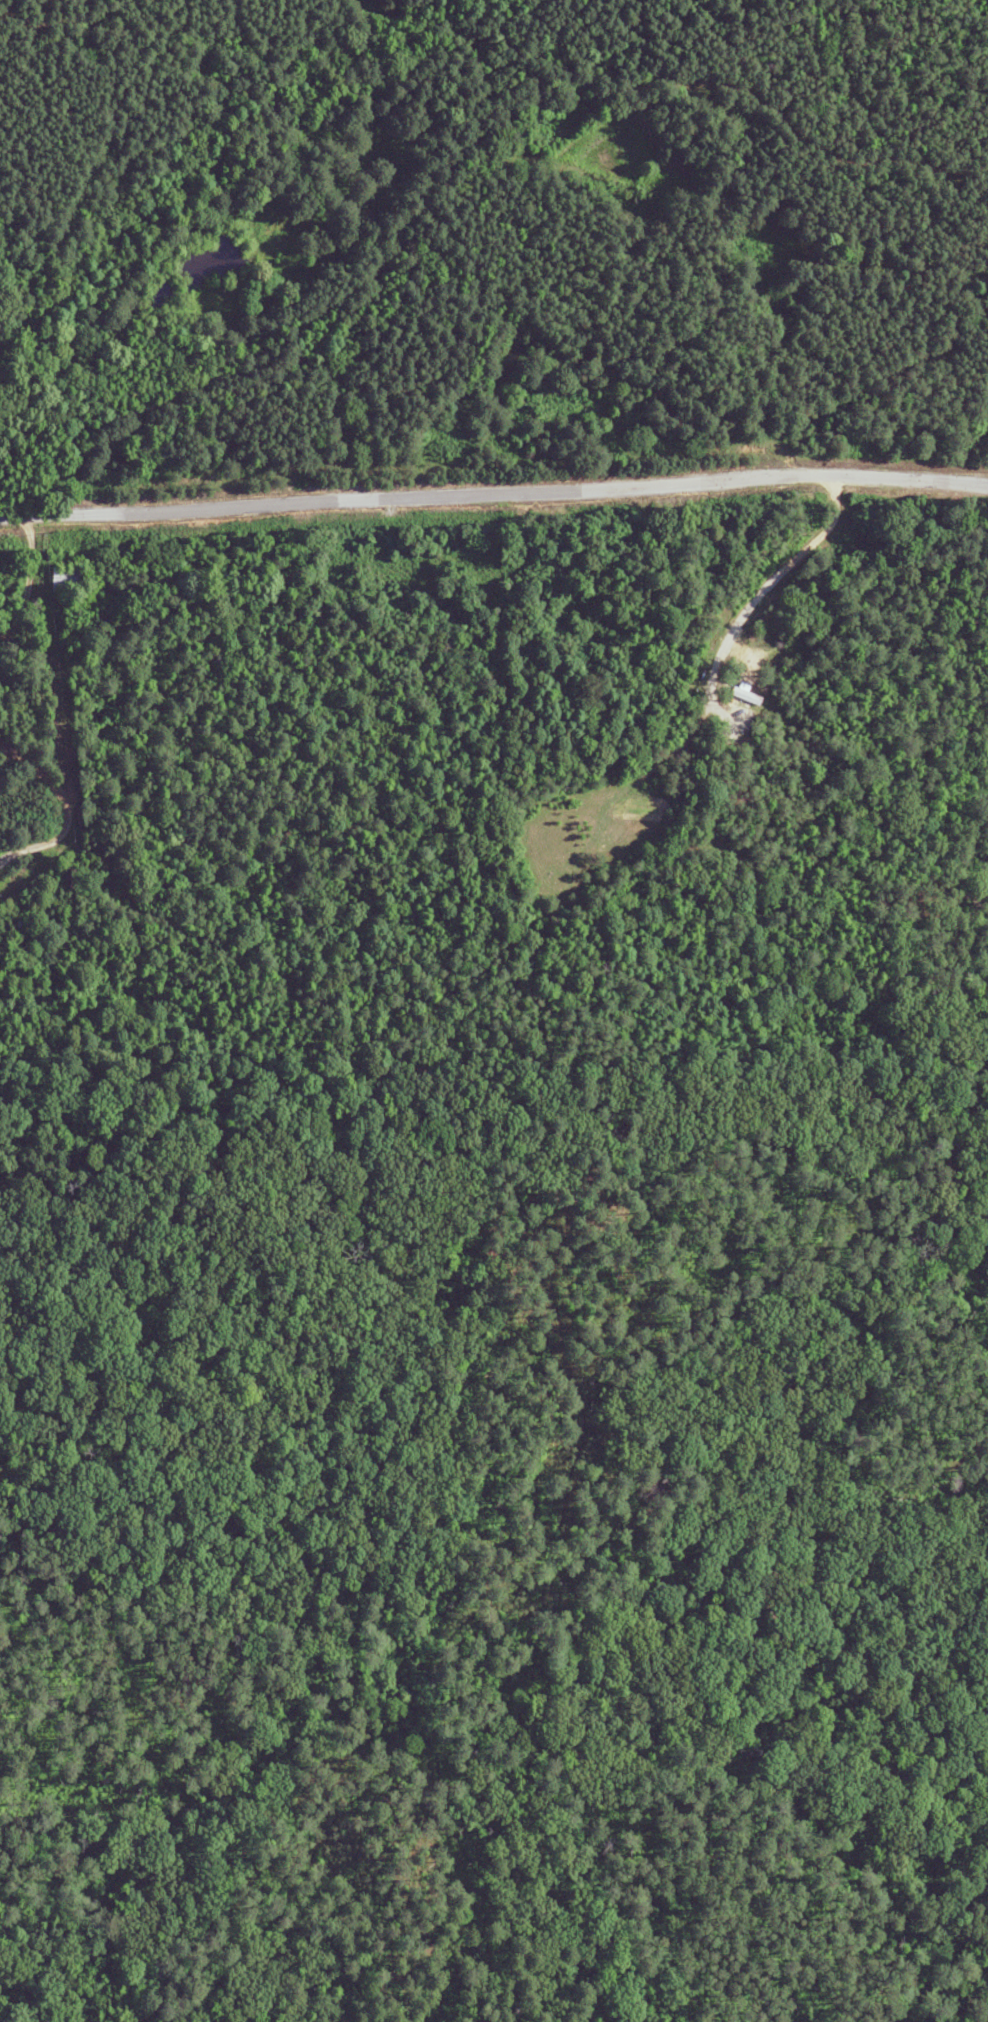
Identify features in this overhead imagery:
road: (493, 494)
road: (36, 579)
building: (70, 580)
road: (755, 596)
road: (37, 802)
building: (70, 881)

